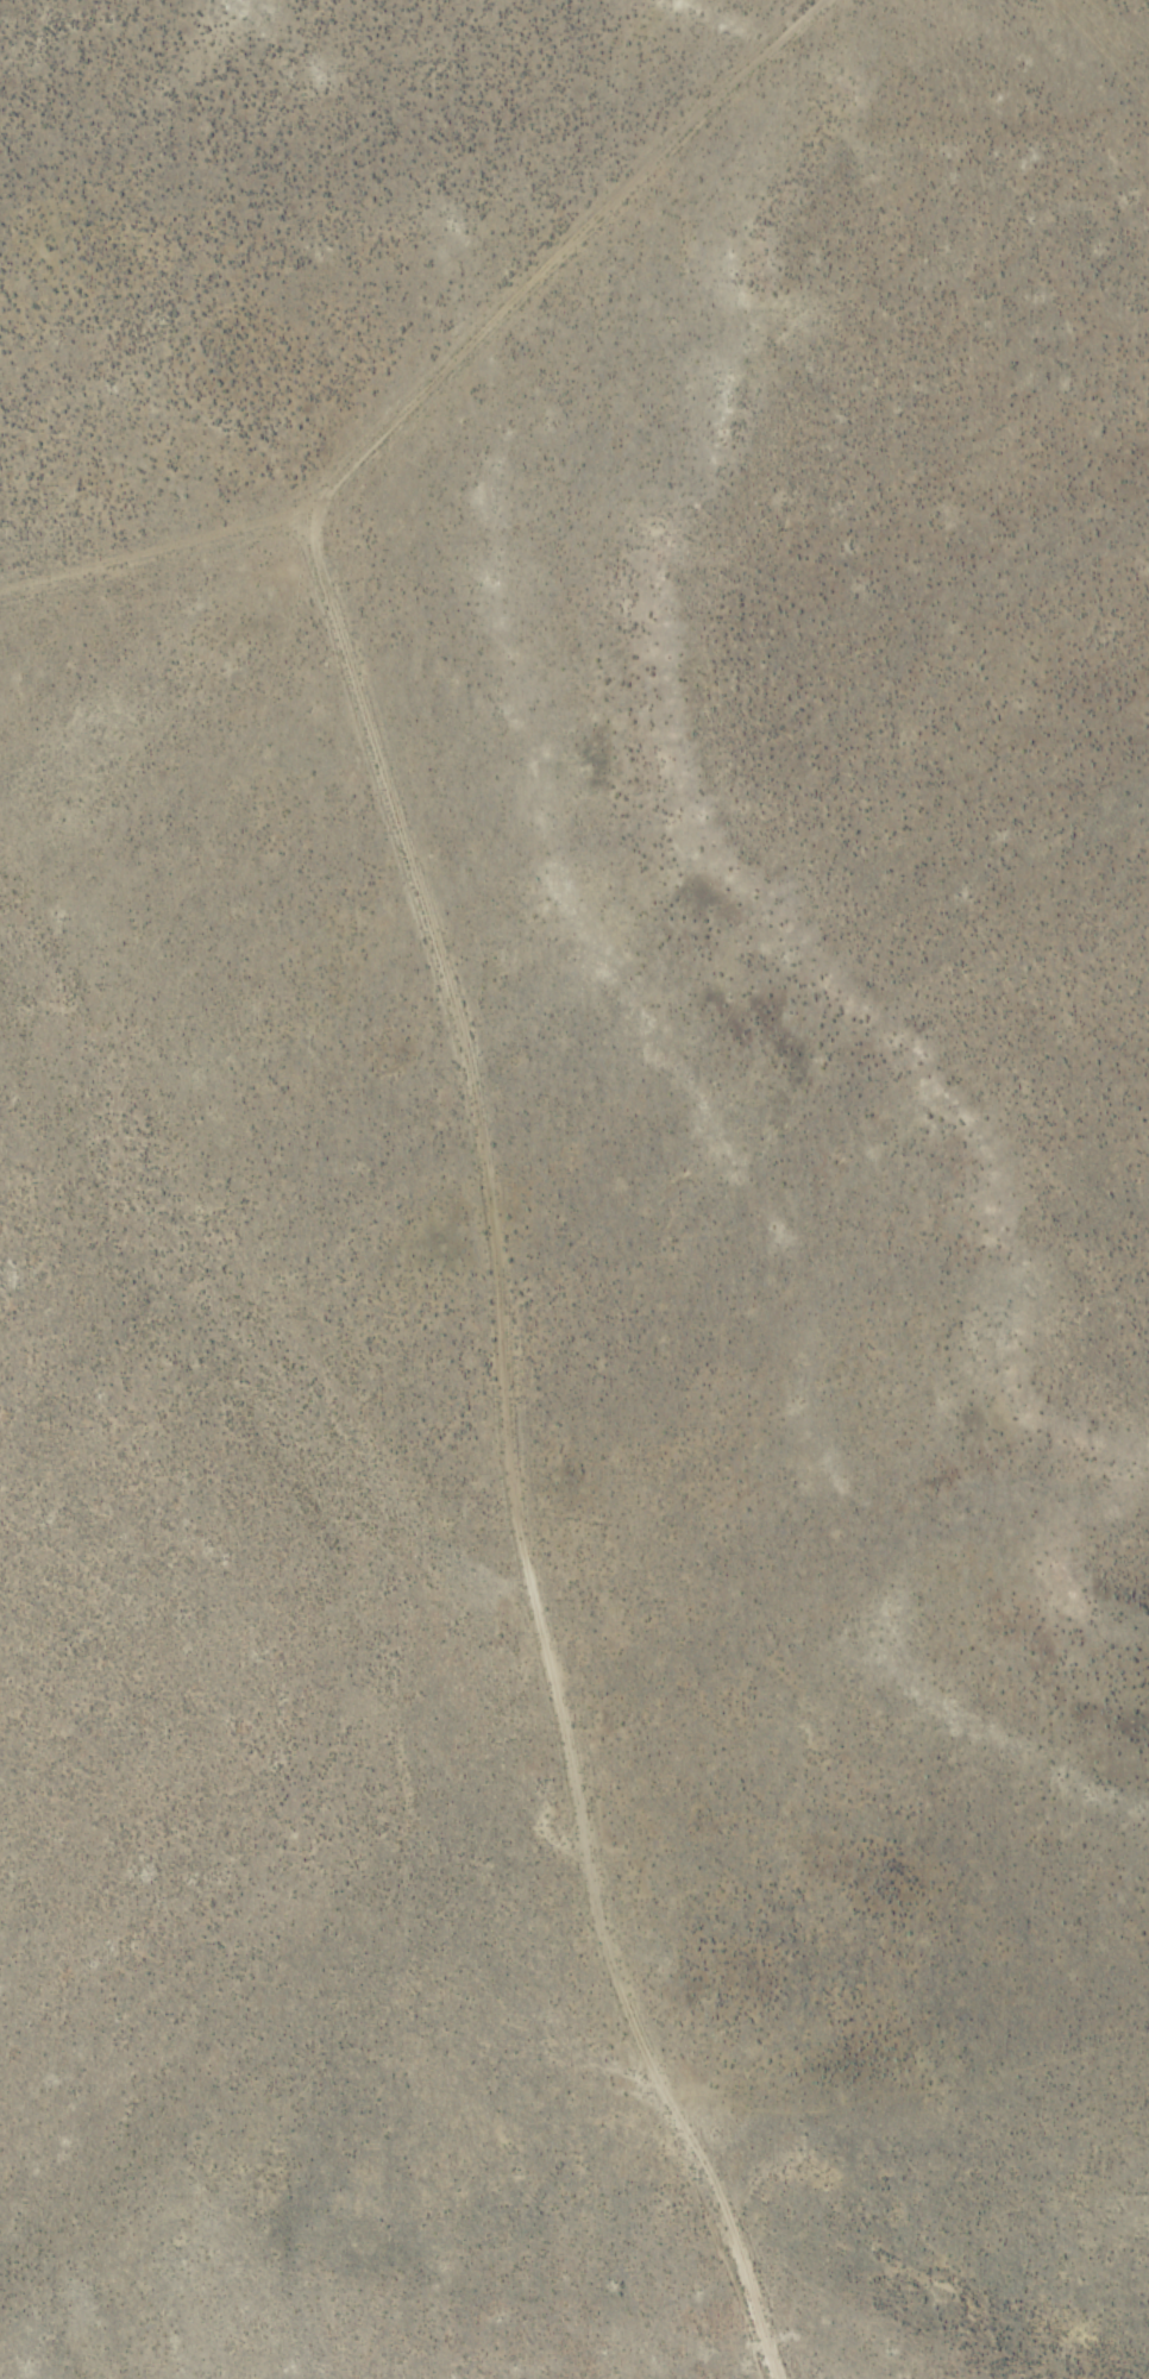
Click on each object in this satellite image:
road: (685, 76)

